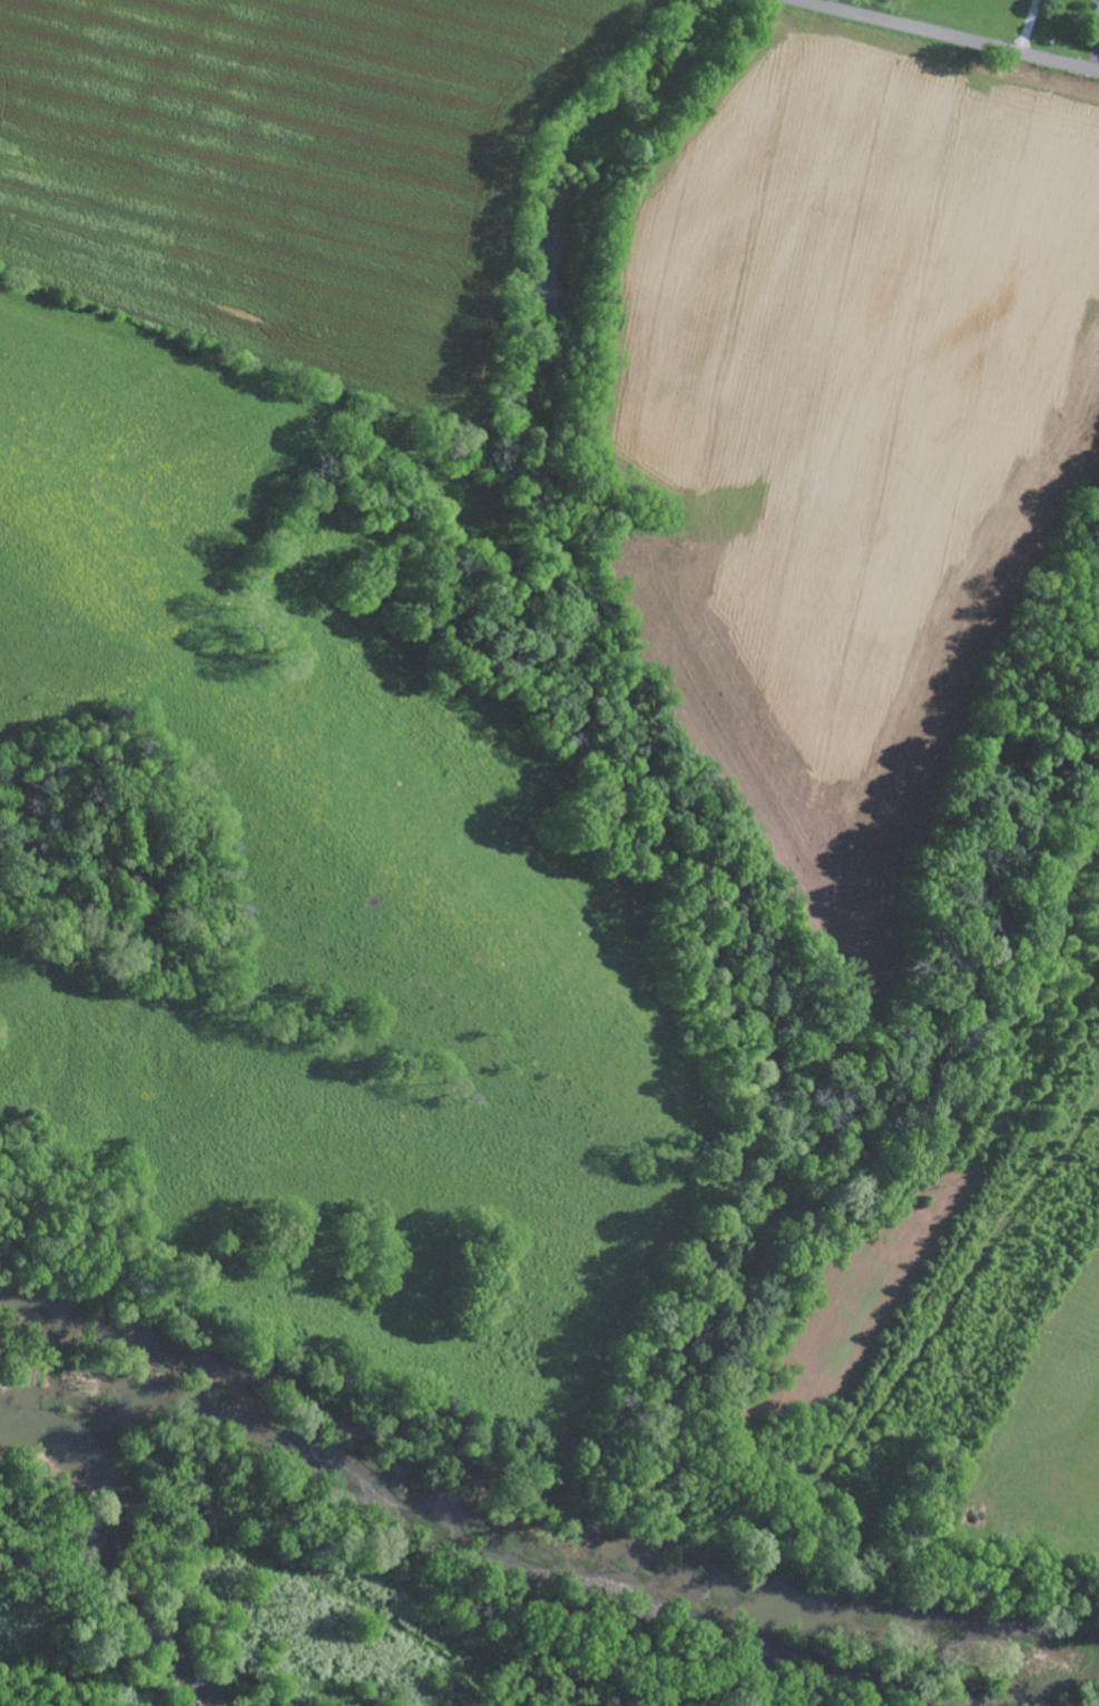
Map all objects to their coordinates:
road: (1029, 27)
road: (943, 36)
river: (533, 1558)

